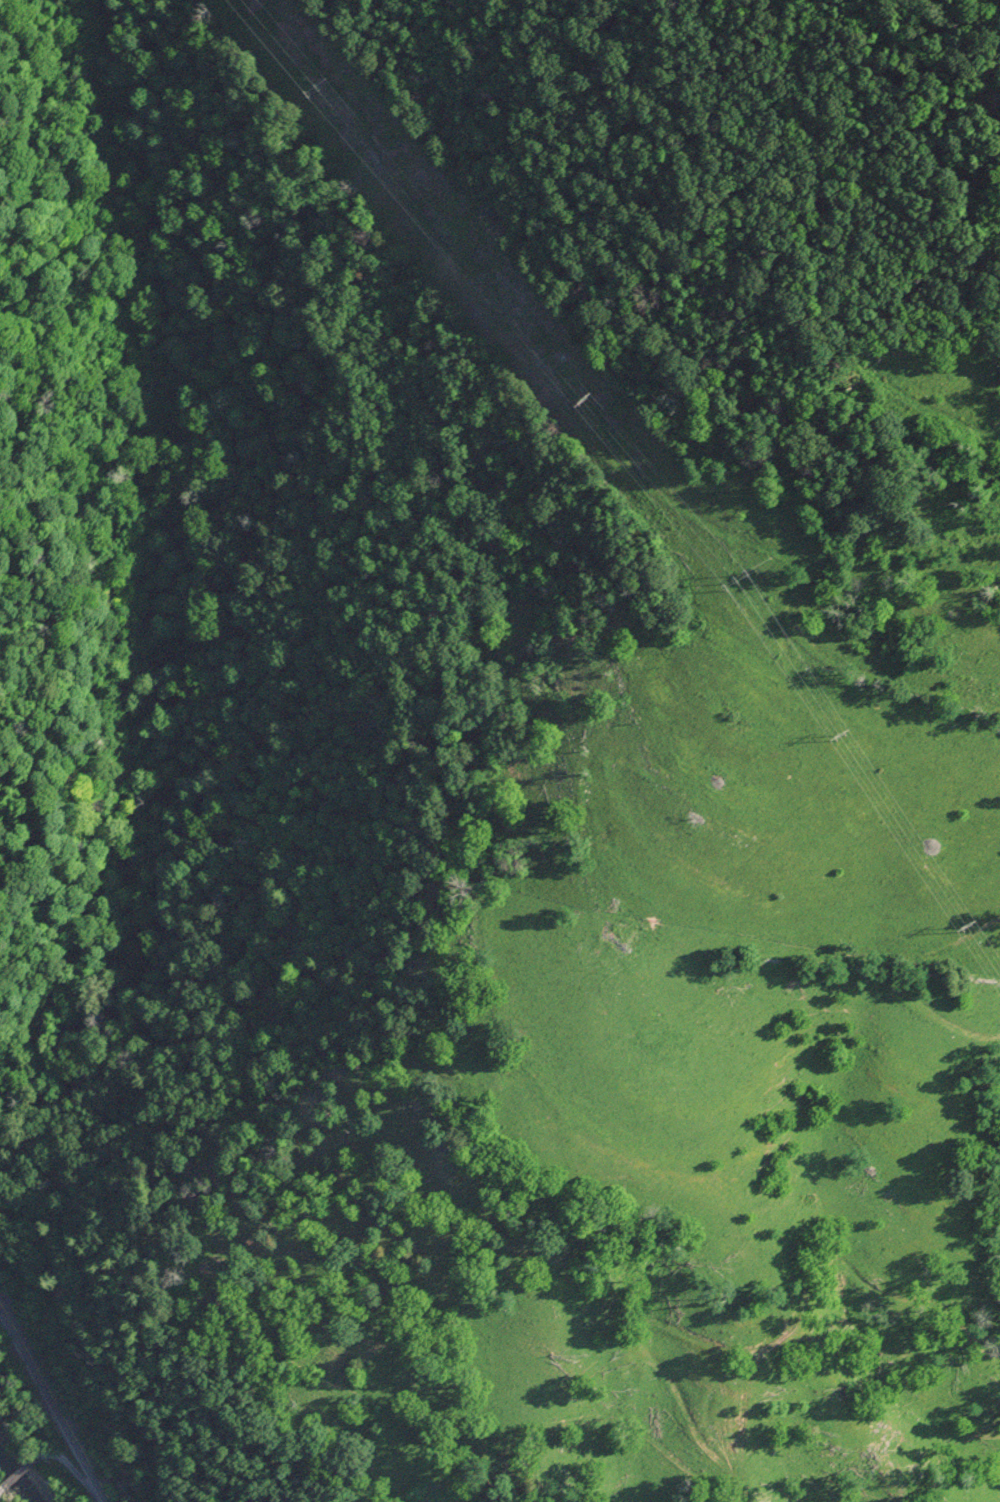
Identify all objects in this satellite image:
road: (55, 1402)
road: (62, 1458)
road: (13, 1473)
river: (17, 1482)
road: (0, 1484)

